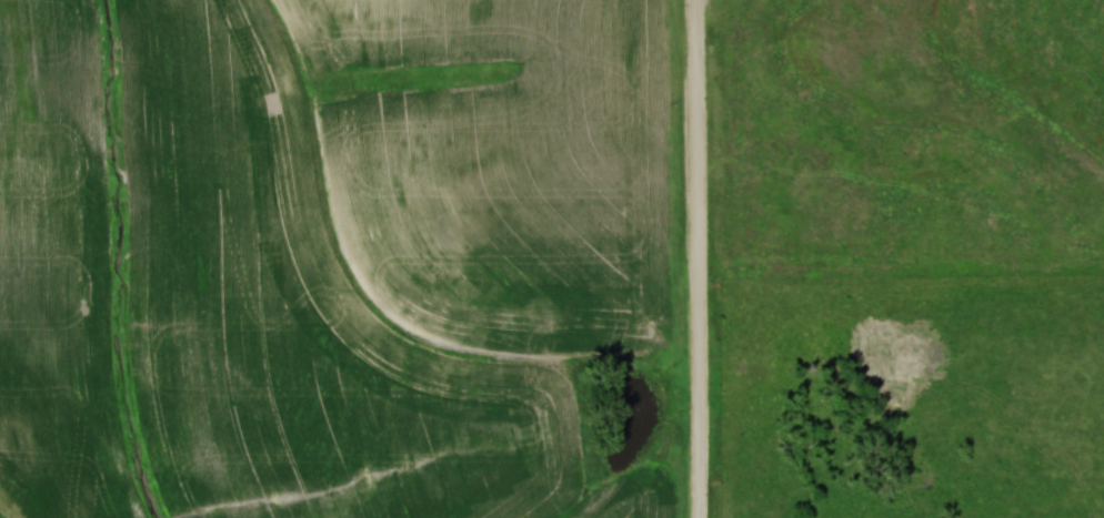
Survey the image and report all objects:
road: (702, 258)

